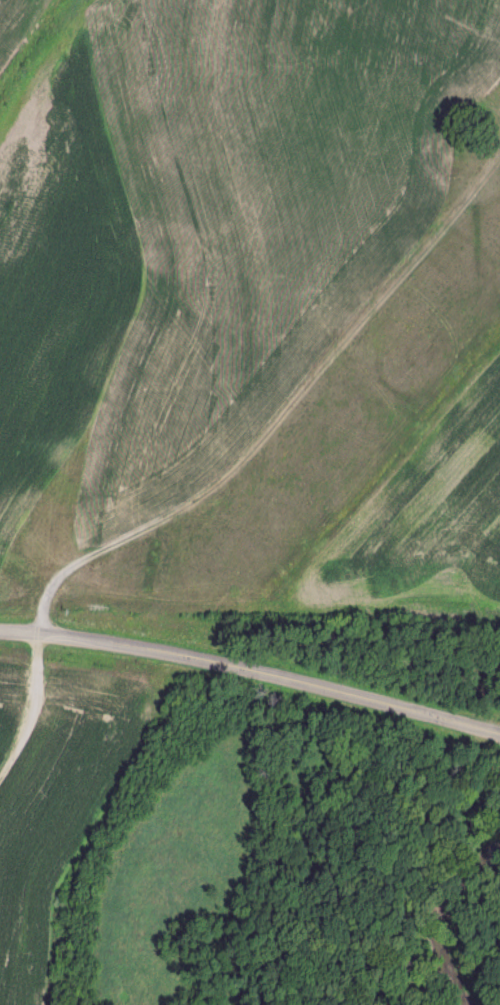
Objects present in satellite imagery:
road: (252, 670)

